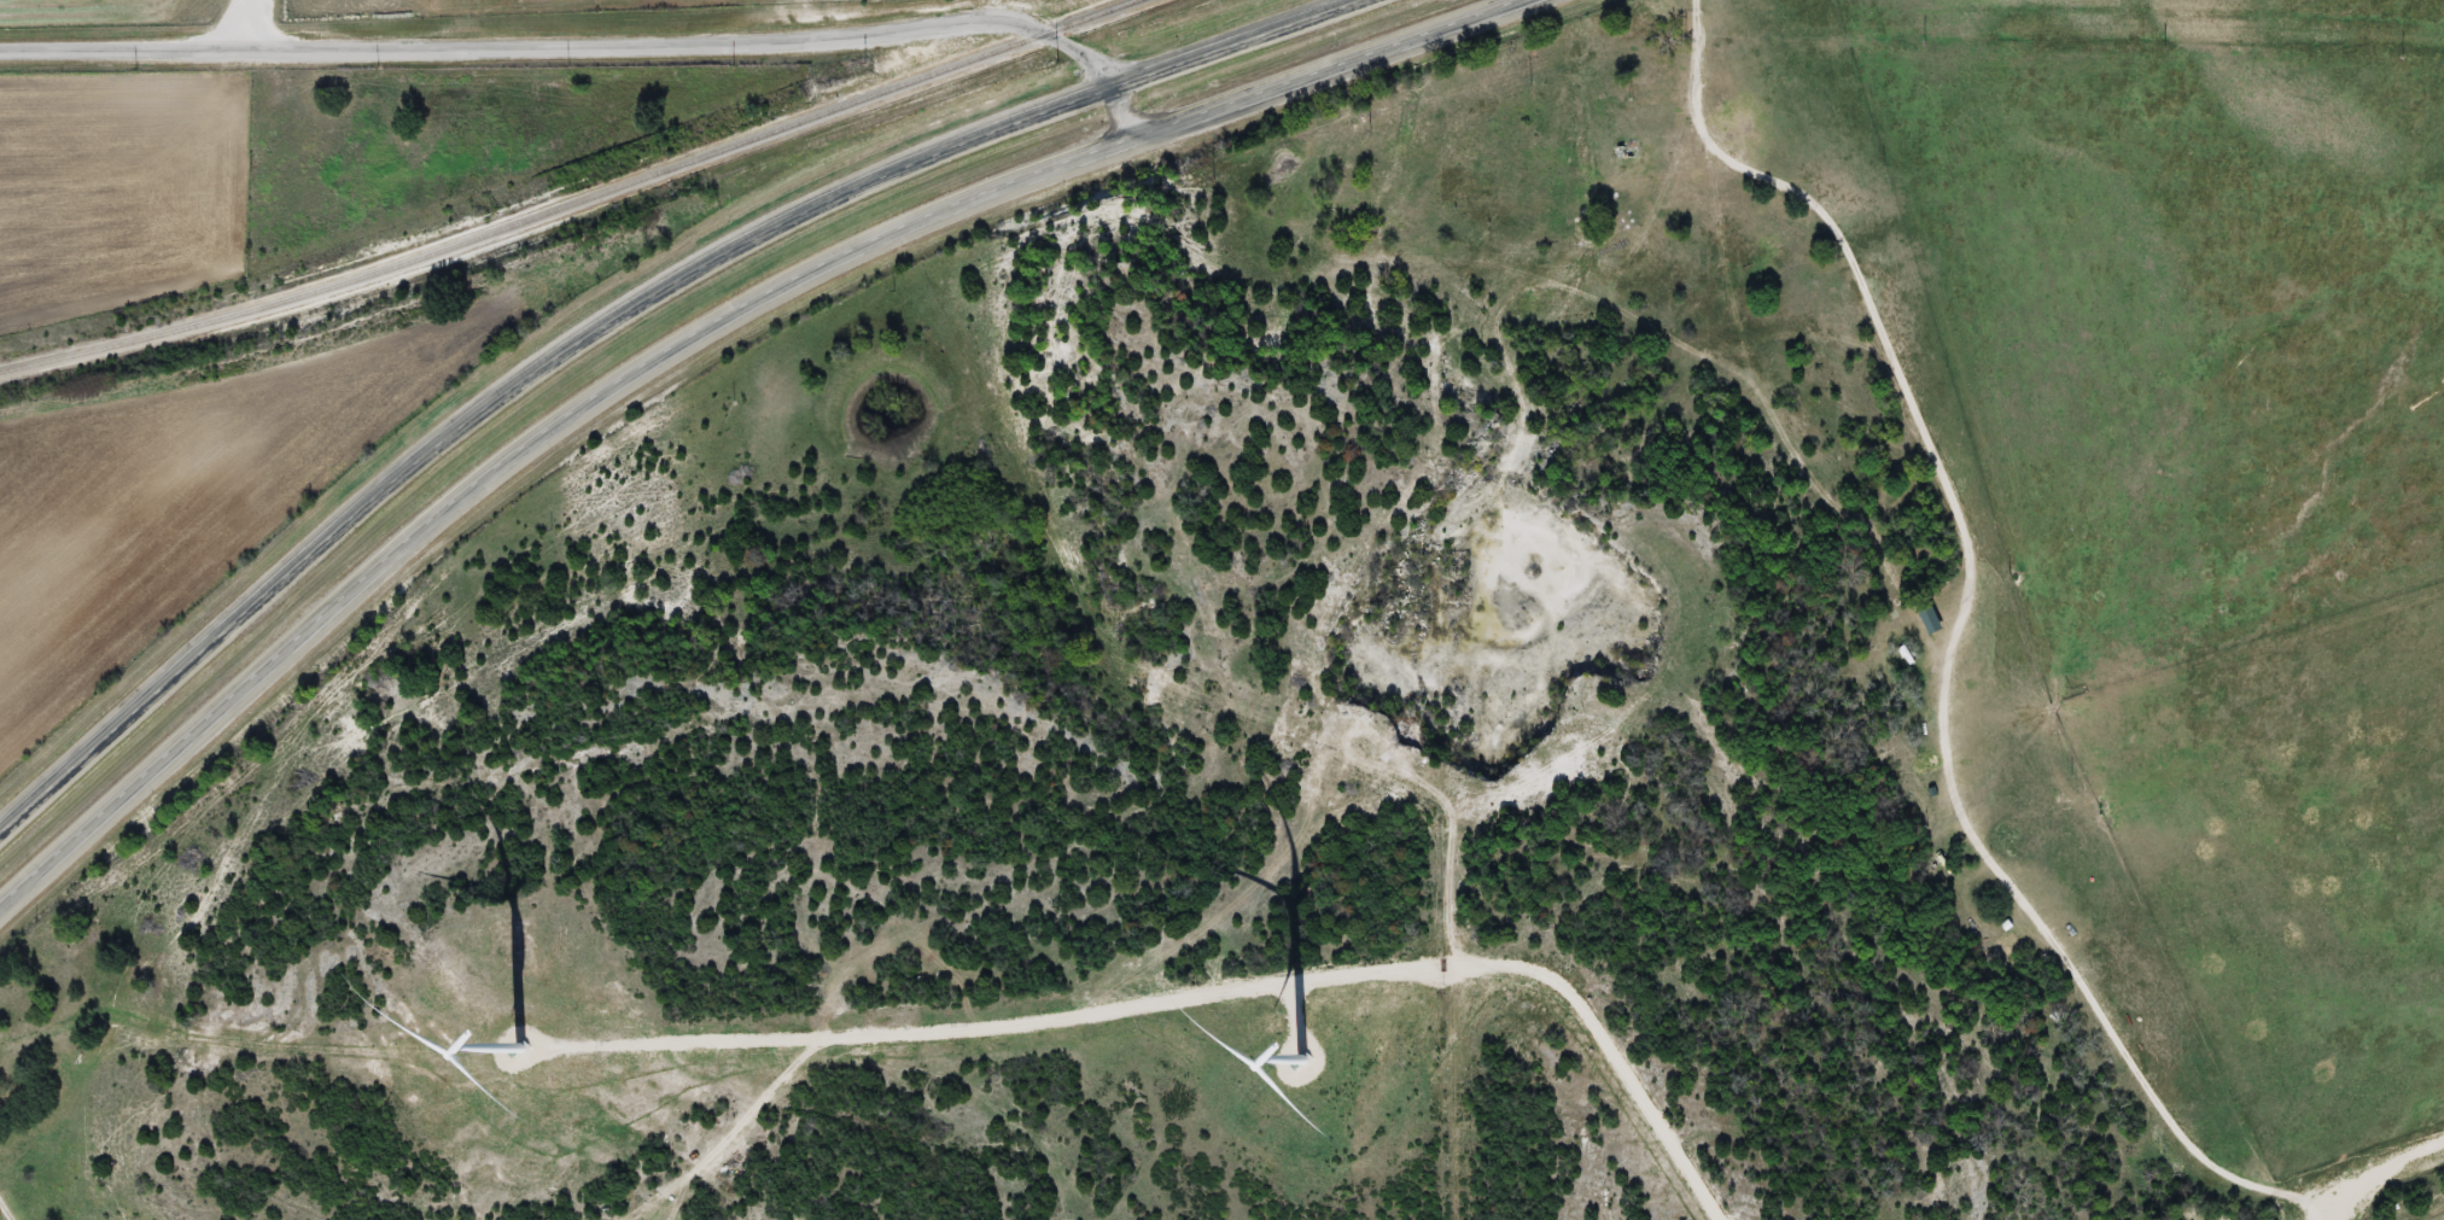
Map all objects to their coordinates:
road: (595, 33)
railway: (573, 202)
road: (618, 319)
road: (692, 342)
road: (1953, 638)
road: (1220, 988)
wind turbine: (521, 1046)
wind turbine: (1301, 1060)
road: (724, 1128)
road: (2376, 1164)
road: (8, 1207)

